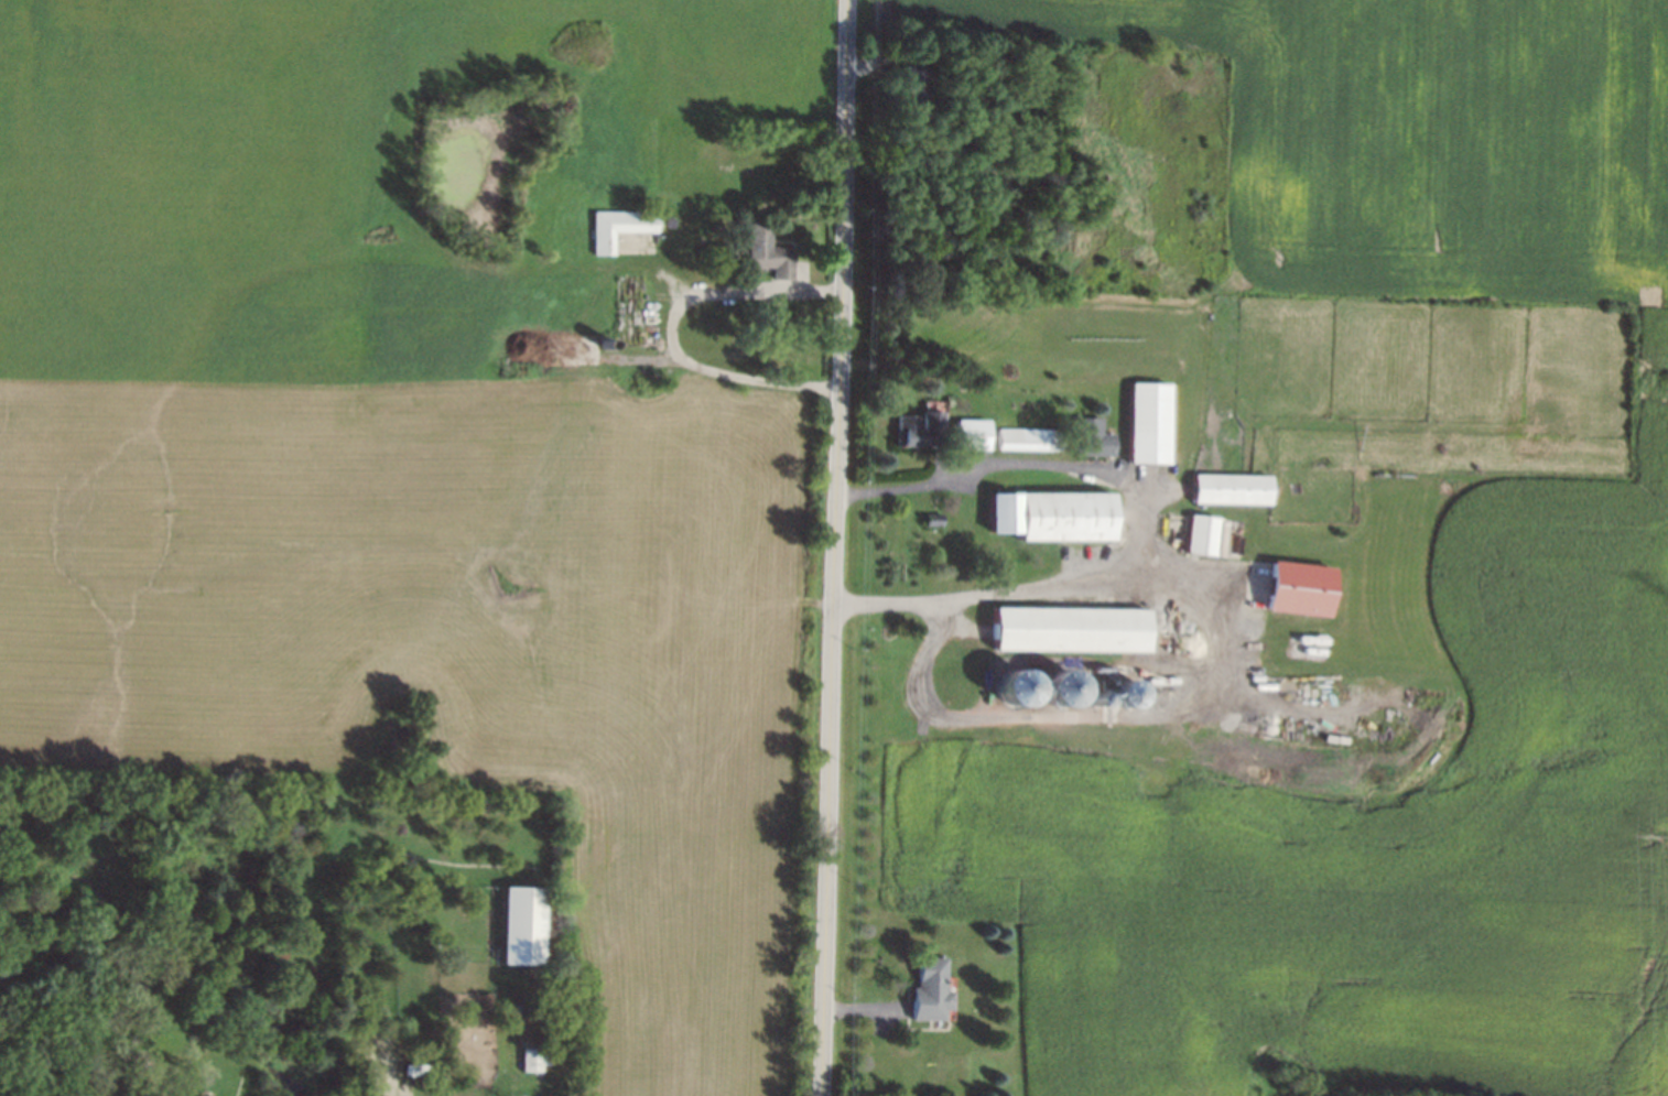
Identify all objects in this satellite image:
building: (918, 84)
building: (620, 228)
building: (769, 253)
road: (679, 280)
road: (671, 328)
building: (1151, 423)
building: (920, 428)
building: (973, 433)
building: (1094, 437)
building: (1025, 438)
road: (965, 467)
building: (1235, 490)
building: (1005, 512)
building: (934, 519)
building: (1068, 519)
building: (1205, 536)
road: (837, 547)
road: (1053, 587)
building: (1303, 589)
building: (1073, 629)
building: (1017, 687)
building: (1062, 688)
building: (1128, 693)
power tower: (1667, 835)
building: (523, 924)
building: (931, 990)
building: (533, 1010)
building: (532, 1060)

